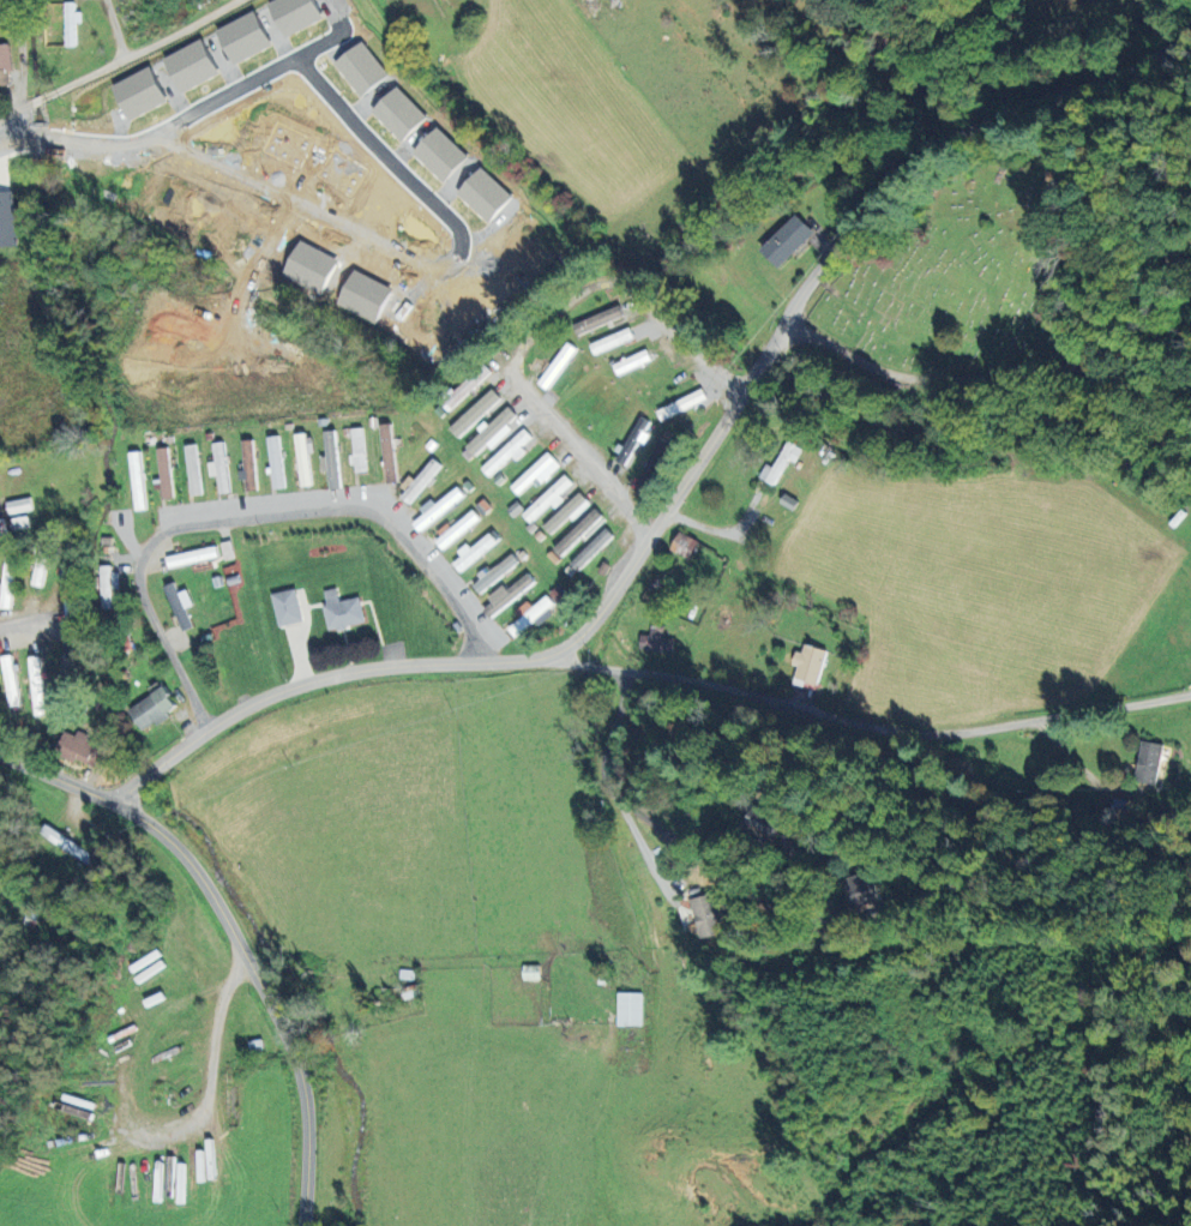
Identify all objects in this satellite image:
building: (295, 14)
building: (71, 23)
road: (114, 29)
building: (243, 37)
road: (120, 60)
building: (191, 65)
building: (5, 66)
building: (361, 68)
building: (139, 92)
building: (399, 114)
building: (441, 155)
building: (486, 194)
road: (862, 217)
building: (7, 220)
building: (787, 241)
park: (969, 271)
building: (597, 320)
road: (534, 332)
building: (610, 341)
building: (631, 362)
building: (557, 366)
road: (1006, 378)
building: (681, 404)
building: (475, 413)
building: (491, 431)
building: (632, 441)
building: (357, 450)
building: (389, 452)
building: (507, 452)
building: (303, 457)
building: (330, 459)
building: (275, 462)
building: (781, 463)
building: (249, 464)
building: (651, 465)
building: (218, 468)
building: (192, 470)
building: (164, 473)
building: (535, 473)
building: (137, 481)
building: (420, 481)
building: (548, 499)
building: (18, 505)
building: (437, 509)
building: (567, 512)
road: (258, 518)
building: (457, 529)
building: (578, 531)
building: (684, 546)
building: (591, 549)
building: (473, 552)
building: (191, 557)
building: (38, 569)
building: (494, 573)
building: (6, 583)
building: (509, 595)
road: (609, 602)
building: (179, 606)
building: (287, 607)
building: (342, 611)
building: (530, 615)
building: (71, 617)
road: (7, 637)
building: (656, 641)
building: (67, 663)
building: (808, 666)
building: (10, 681)
road: (320, 684)
building: (36, 686)
building: (152, 709)
road: (873, 729)
building: (77, 749)
building: (1148, 762)
road: (614, 791)
building: (765, 823)
building: (66, 845)
road: (732, 878)
building: (861, 889)
building: (705, 915)
building: (0, 934)
road: (240, 934)
building: (531, 973)
building: (628, 1009)
building: (254, 1045)

